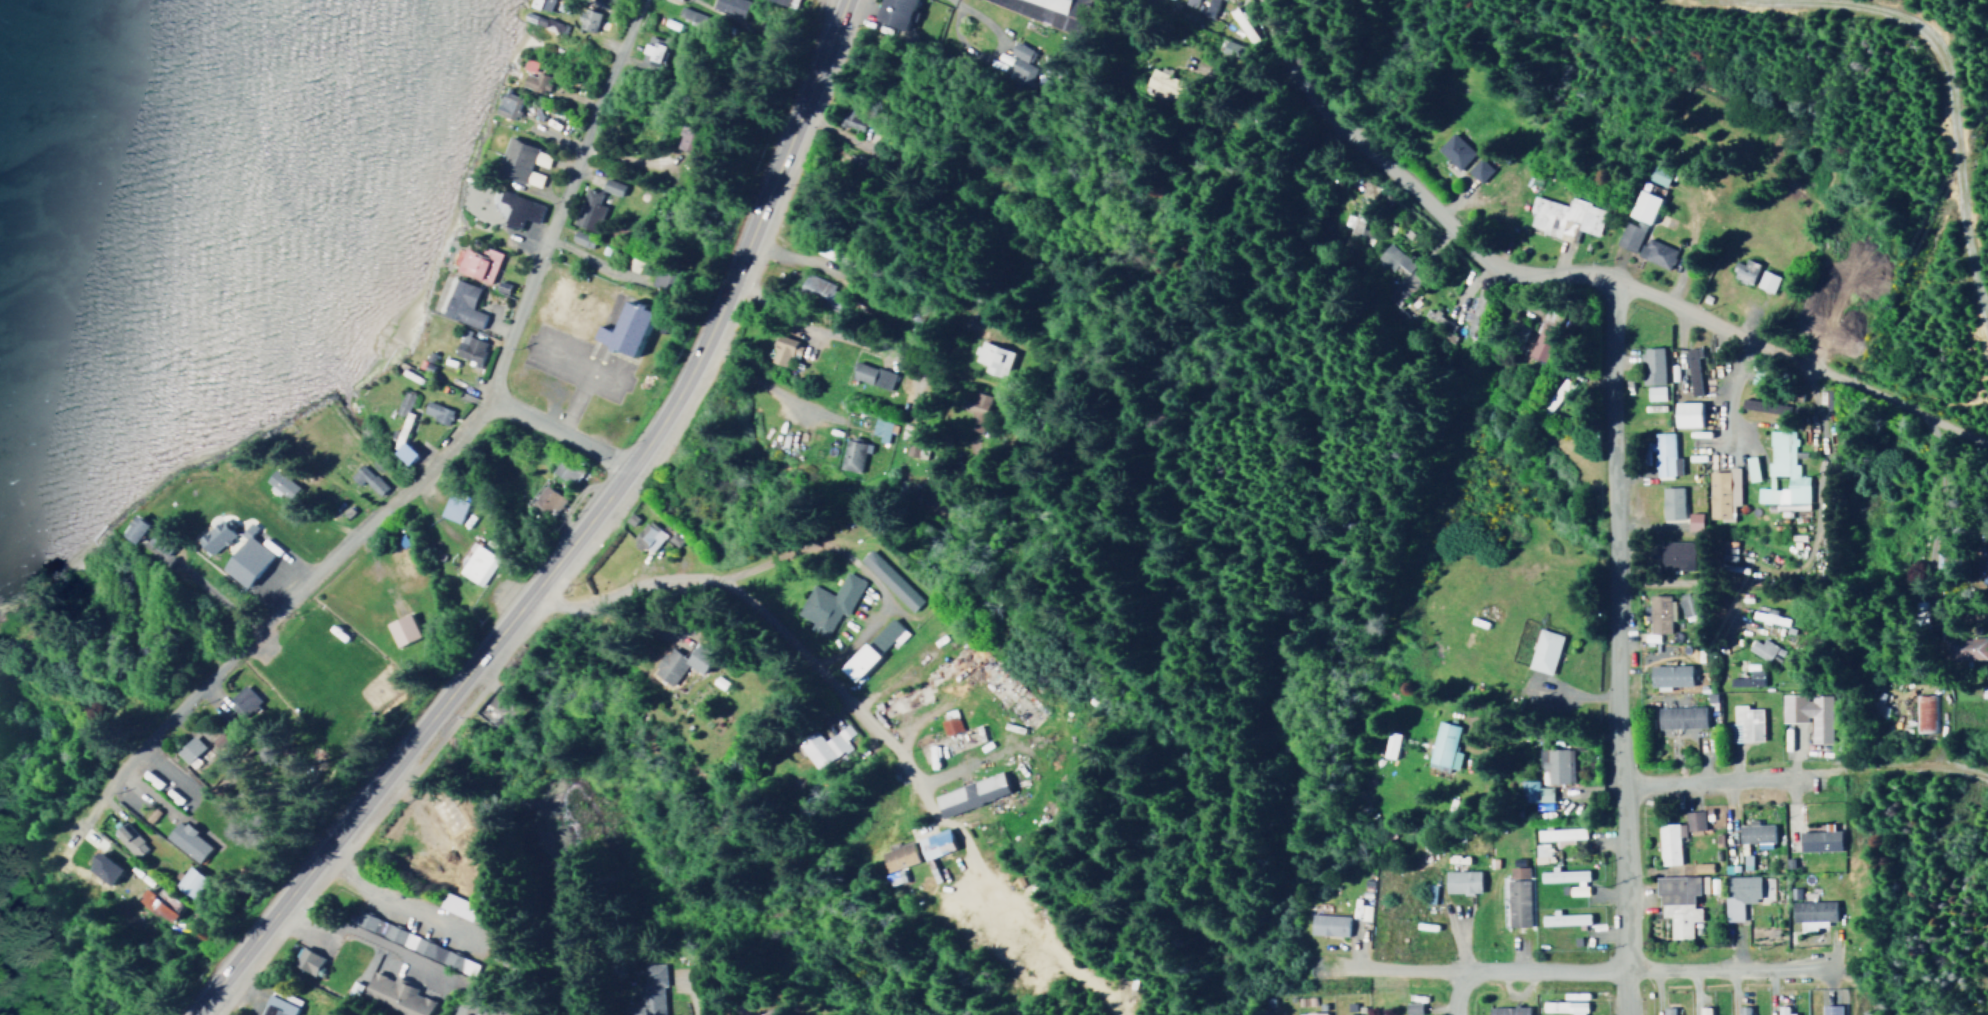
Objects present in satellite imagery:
building: (629, 0)
building: (787, 0)
building: (1189, 2)
building: (597, 3)
building: (539, 4)
building: (1050, 4)
building: (1207, 8)
building: (893, 13)
building: (585, 20)
building: (540, 21)
building: (652, 48)
road: (1289, 52)
building: (1019, 66)
building: (535, 81)
building: (1162, 83)
building: (508, 105)
building: (851, 117)
building: (1460, 148)
building: (520, 161)
building: (1483, 167)
building: (1657, 174)
building: (610, 186)
road: (557, 198)
building: (1642, 205)
building: (517, 208)
building: (587, 209)
building: (1569, 212)
building: (1356, 223)
building: (1635, 233)
building: (579, 239)
building: (1661, 250)
building: (476, 263)
building: (631, 263)
road: (1563, 269)
road: (821, 270)
building: (1743, 270)
building: (1396, 272)
building: (1765, 280)
building: (820, 292)
building: (1471, 296)
building: (460, 303)
building: (1819, 313)
building: (624, 327)
building: (1515, 328)
building: (1542, 335)
building: (466, 346)
building: (782, 350)
building: (990, 357)
building: (1650, 364)
building: (1691, 370)
building: (869, 374)
building: (1653, 393)
building: (1554, 395)
building: (400, 403)
building: (979, 403)
road: (1919, 408)
building: (434, 411)
building: (1685, 413)
building: (400, 426)
road: (557, 428)
building: (881, 429)
building: (909, 438)
building: (1669, 450)
building: (850, 453)
building: (1750, 468)
building: (564, 470)
building: (1781, 474)
building: (365, 478)
building: (281, 483)
building: (1725, 490)
building: (1680, 499)
building: (544, 501)
building: (451, 508)
building: (132, 527)
building: (214, 536)
road: (568, 538)
building: (645, 538)
building: (1682, 552)
building: (244, 557)
building: (1982, 563)
building: (476, 564)
building: (888, 579)
road: (676, 584)
road: (300, 590)
building: (827, 603)
building: (1688, 604)
building: (1658, 614)
building: (1762, 615)
road: (756, 625)
building: (400, 629)
building: (885, 634)
road: (1653, 641)
road: (1616, 646)
building: (1552, 648)
building: (1760, 648)
building: (1964, 648)
building: (858, 660)
building: (680, 662)
building: (1669, 674)
building: (1746, 679)
road: (1581, 689)
building: (1922, 712)
building: (1807, 713)
building: (1679, 717)
building: (948, 724)
building: (1742, 724)
road: (883, 732)
building: (1388, 744)
building: (823, 746)
building: (1442, 746)
building: (191, 753)
building: (1552, 765)
road: (1706, 776)
building: (1531, 791)
building: (969, 794)
building: (1754, 833)
building: (1558, 834)
building: (1674, 835)
building: (126, 839)
building: (183, 840)
building: (1817, 840)
building: (934, 843)
building: (1539, 853)
building: (897, 856)
building: (100, 867)
building: (1699, 867)
building: (1565, 878)
building: (1459, 881)
building: (186, 882)
building: (1427, 893)
building: (1737, 895)
building: (1516, 896)
building: (1678, 901)
building: (156, 903)
building: (1811, 914)
building: (1563, 919)
building: (1326, 924)
building: (305, 960)
road: (1582, 966)
building: (648, 992)
road: (1450, 992)
building: (393, 996)
building: (277, 1003)
building: (1563, 1007)
building: (1347, 1008)
building: (1411, 1008)
building: (1828, 1009)
building: (1506, 1010)
building: (1666, 1010)
building: (1703, 1010)
building: (1741, 1010)
building: (1781, 1010)
building: (769, 1012)
building: (1310, 1013)
building: (1276, 1014)

